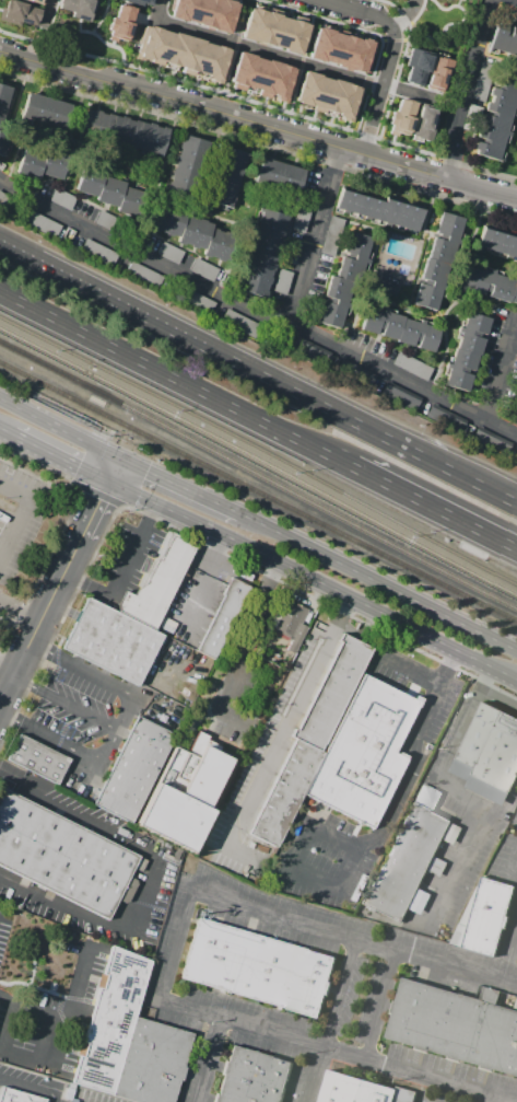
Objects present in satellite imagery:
building: (40, 0)
building: (389, 0)
building: (141, 1)
building: (102, 8)
road: (348, 8)
building: (64, 11)
building: (20, 12)
building: (205, 12)
building: (514, 13)
road: (404, 14)
building: (272, 27)
building: (504, 39)
building: (103, 46)
building: (342, 48)
road: (261, 51)
building: (183, 55)
building: (424, 70)
building: (437, 72)
building: (262, 79)
road: (384, 80)
building: (482, 81)
road: (462, 88)
building: (4, 100)
building: (332, 100)
building: (46, 111)
building: (401, 116)
building: (497, 116)
building: (471, 118)
road: (258, 123)
building: (423, 123)
building: (124, 132)
building: (3, 142)
road: (168, 146)
road: (14, 159)
road: (98, 160)
building: (42, 163)
building: (188, 165)
building: (226, 176)
building: (279, 177)
building: (110, 190)
building: (2, 198)
building: (63, 198)
building: (379, 210)
building: (105, 220)
building: (301, 220)
building: (42, 223)
building: (192, 231)
road: (378, 233)
building: (332, 235)
road: (315, 236)
road: (424, 240)
building: (498, 242)
building: (291, 251)
building: (101, 253)
building: (171, 253)
building: (262, 253)
road: (237, 262)
building: (438, 262)
building: (204, 269)
building: (145, 275)
building: (345, 280)
building: (282, 281)
building: (387, 282)
building: (491, 283)
road: (456, 292)
building: (196, 301)
road: (485, 306)
road: (400, 309)
road: (258, 310)
road: (516, 315)
building: (240, 322)
road: (351, 323)
building: (401, 328)
railway: (21, 350)
building: (310, 351)
building: (466, 351)
railway: (78, 356)
building: (413, 367)
railway: (17, 369)
road: (503, 370)
road: (258, 372)
building: (356, 374)
road: (176, 379)
railway: (86, 383)
building: (400, 397)
railway: (79, 401)
building: (515, 414)
building: (447, 418)
road: (57, 425)
road: (5, 431)
road: (98, 432)
building: (492, 441)
traffic signals: (116, 454)
road: (57, 455)
railway: (259, 459)
building: (516, 461)
traffic signals: (105, 477)
road: (179, 485)
railway: (337, 488)
road: (16, 492)
railway: (324, 507)
road: (435, 508)
parking lot: (21, 519)
railway: (319, 520)
road: (260, 523)
road: (16, 537)
parking lot: (133, 553)
road: (58, 575)
road: (308, 577)
road: (124, 580)
building: (157, 583)
road: (207, 584)
road: (397, 591)
road: (19, 608)
building: (223, 617)
building: (292, 624)
building: (113, 641)
road: (248, 651)
road: (7, 661)
road: (411, 674)
road: (515, 678)
road: (63, 700)
parking lot: (73, 706)
road: (119, 721)
road: (287, 732)
building: (310, 741)
building: (364, 752)
building: (487, 754)
building: (39, 758)
road: (445, 767)
building: (134, 769)
road: (9, 776)
road: (404, 792)
building: (185, 794)
building: (427, 797)
road: (74, 811)
road: (321, 831)
building: (451, 833)
road: (143, 851)
building: (66, 857)
building: (406, 861)
road: (458, 863)
building: (420, 901)
road: (93, 918)
building: (489, 918)
road: (177, 962)
building: (258, 968)
road: (68, 1019)
building: (110, 1020)
road: (332, 1020)
building: (455, 1025)
road: (15, 1029)
road: (211, 1059)
building: (154, 1063)
building: (252, 1077)
road: (31, 1087)
building: (353, 1090)
building: (17, 1095)
building: (403, 1095)
road: (494, 1099)

